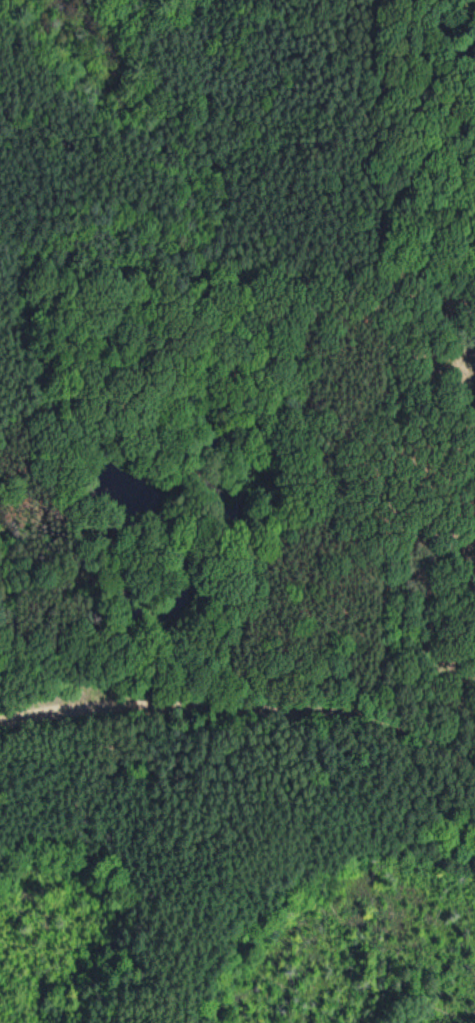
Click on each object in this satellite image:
road: (244, 690)

